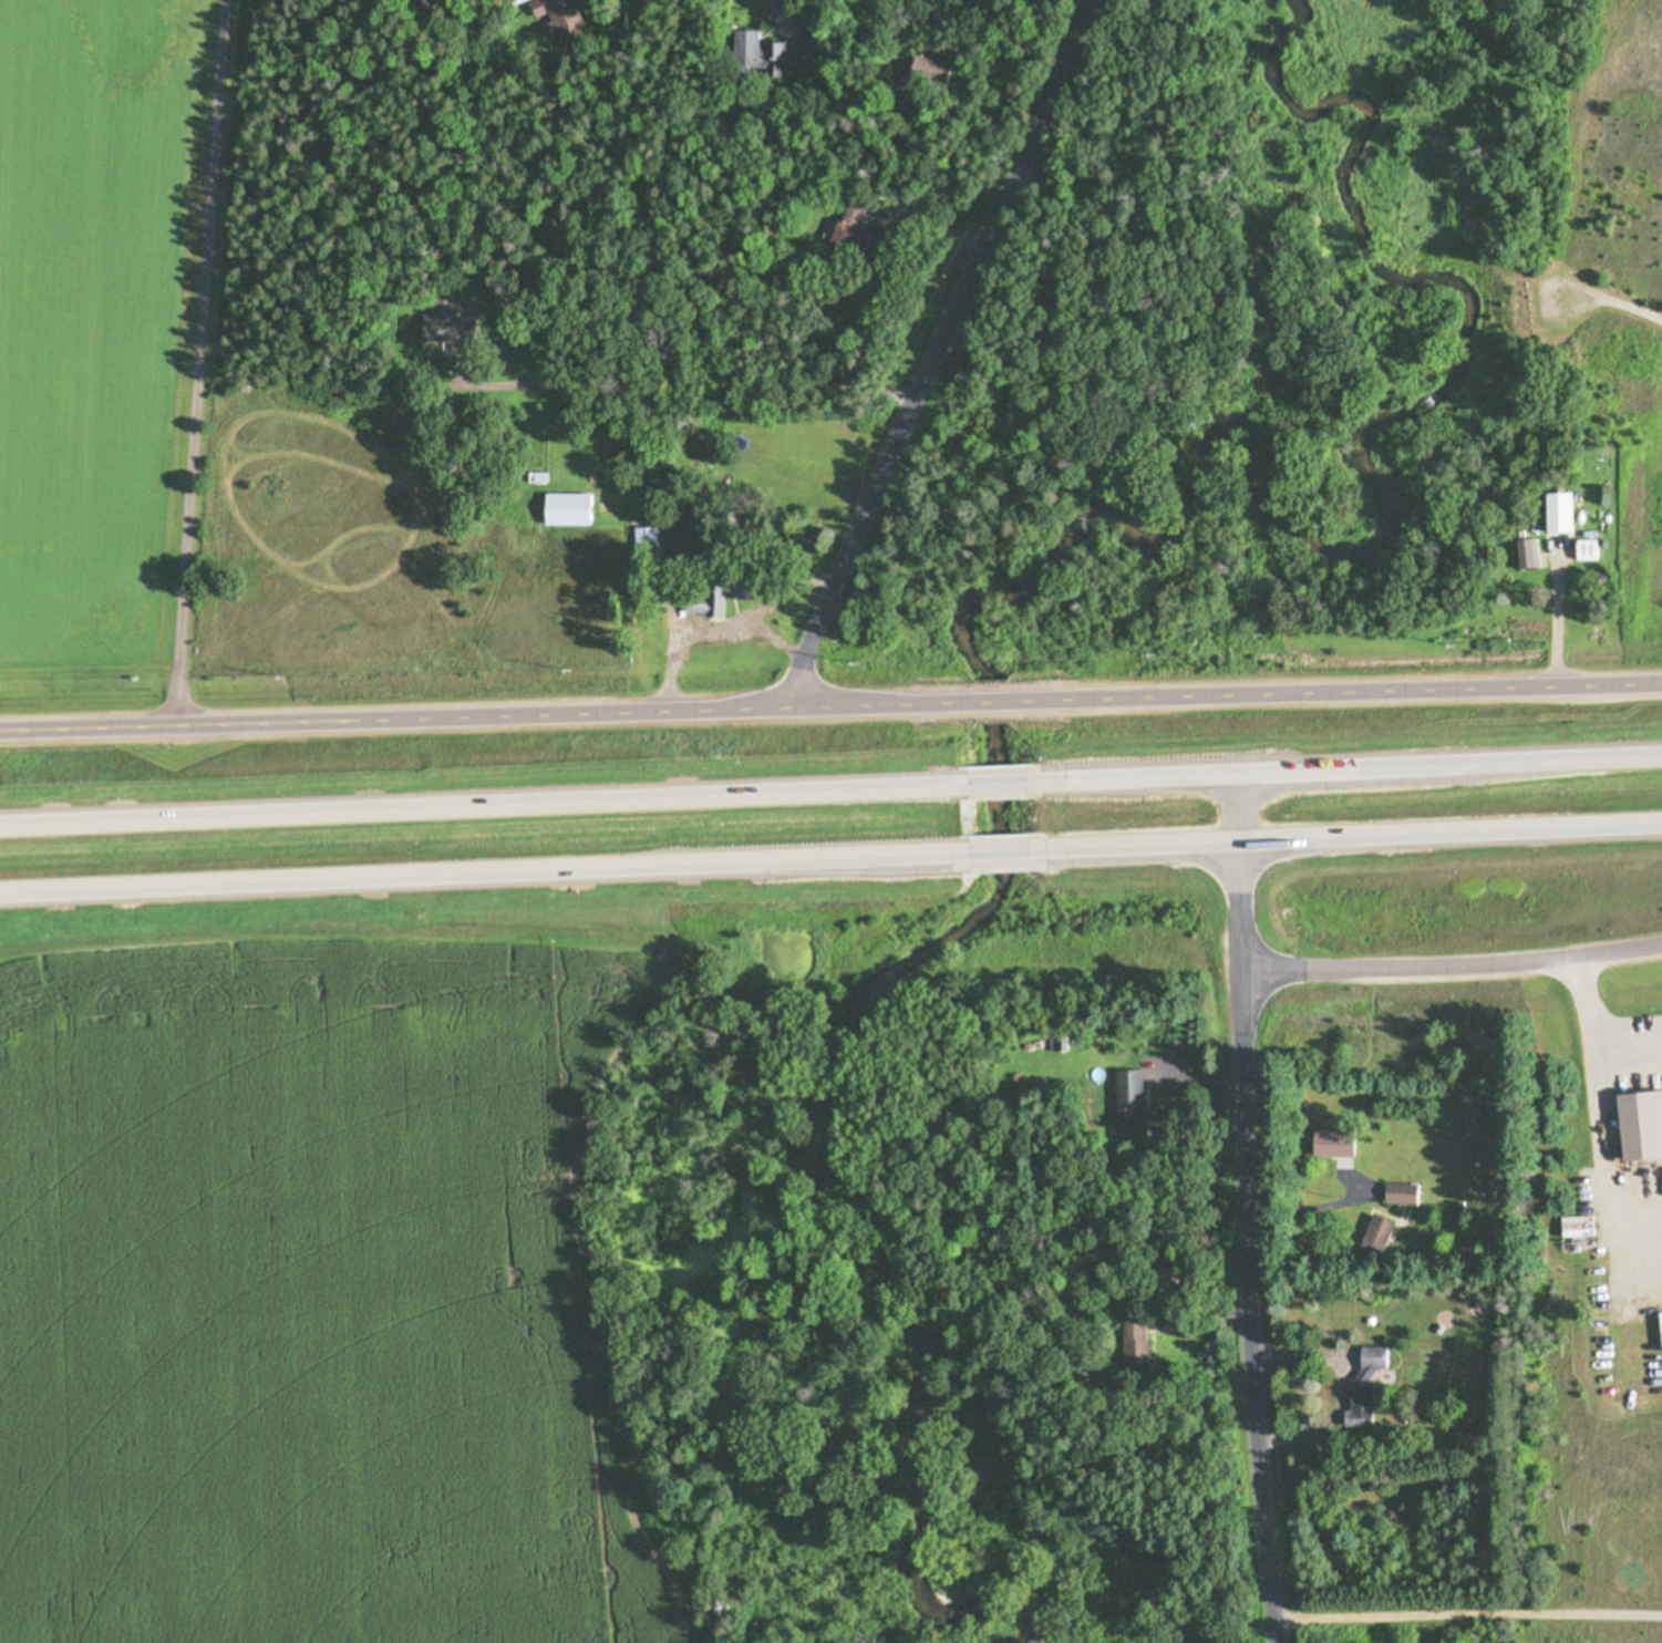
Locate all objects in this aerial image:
building: (561, 7)
building: (789, 53)
building: (898, 210)
building: (858, 211)
building: (448, 327)
crop: (106, 341)
road: (938, 348)
road: (195, 363)
building: (570, 508)
building: (1552, 509)
building: (647, 545)
building: (1582, 548)
building: (1522, 551)
building: (734, 583)
road: (1557, 616)
road: (1343, 688)
road: (990, 697)
road: (476, 715)
road: (1349, 763)
road: (998, 778)
road: (479, 800)
building: (1596, 816)
road: (1354, 838)
road: (1007, 851)
road: (483, 876)
road: (1451, 965)
road: (1592, 1012)
building: (1057, 1043)
building: (1134, 1096)
building: (1637, 1124)
building: (1342, 1143)
building: (1401, 1193)
road: (1311, 1199)
road: (1243, 1205)
crop: (318, 1277)
building: (1140, 1330)
building: (1369, 1387)
road: (1466, 1611)

